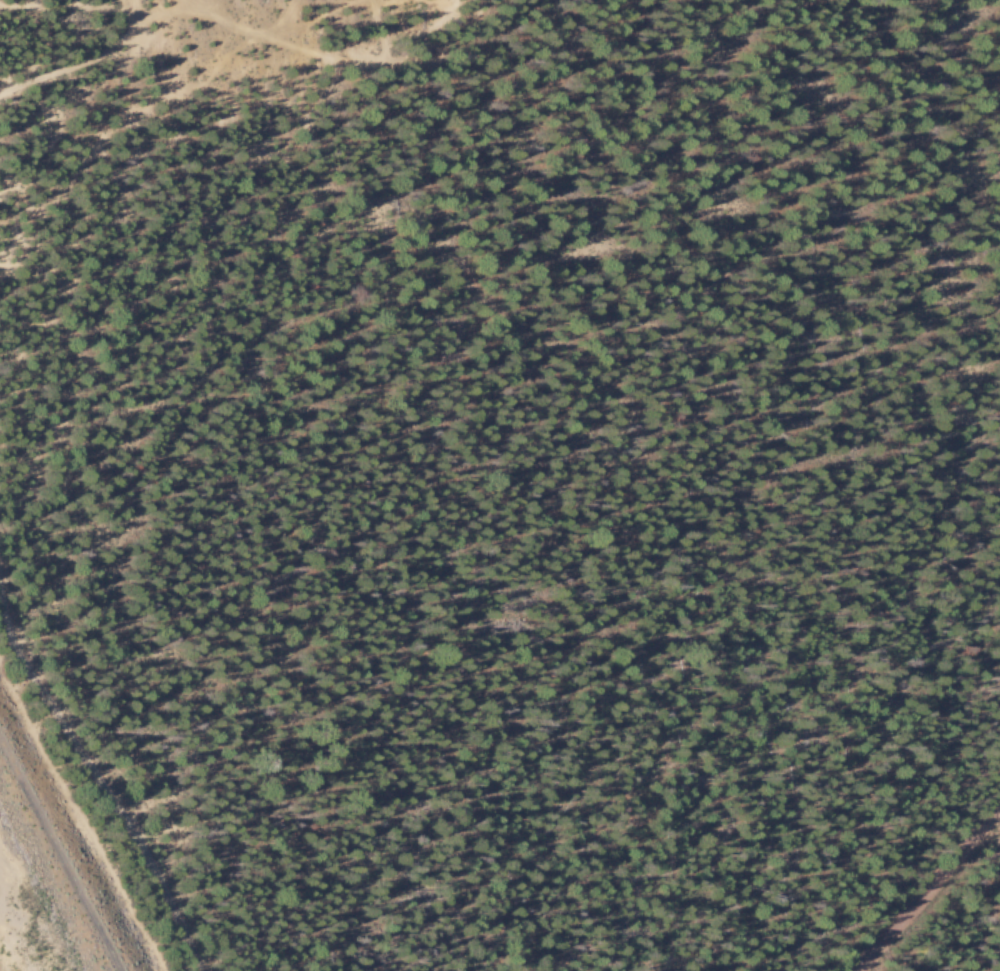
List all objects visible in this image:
road: (99, 777)
road: (928, 889)

